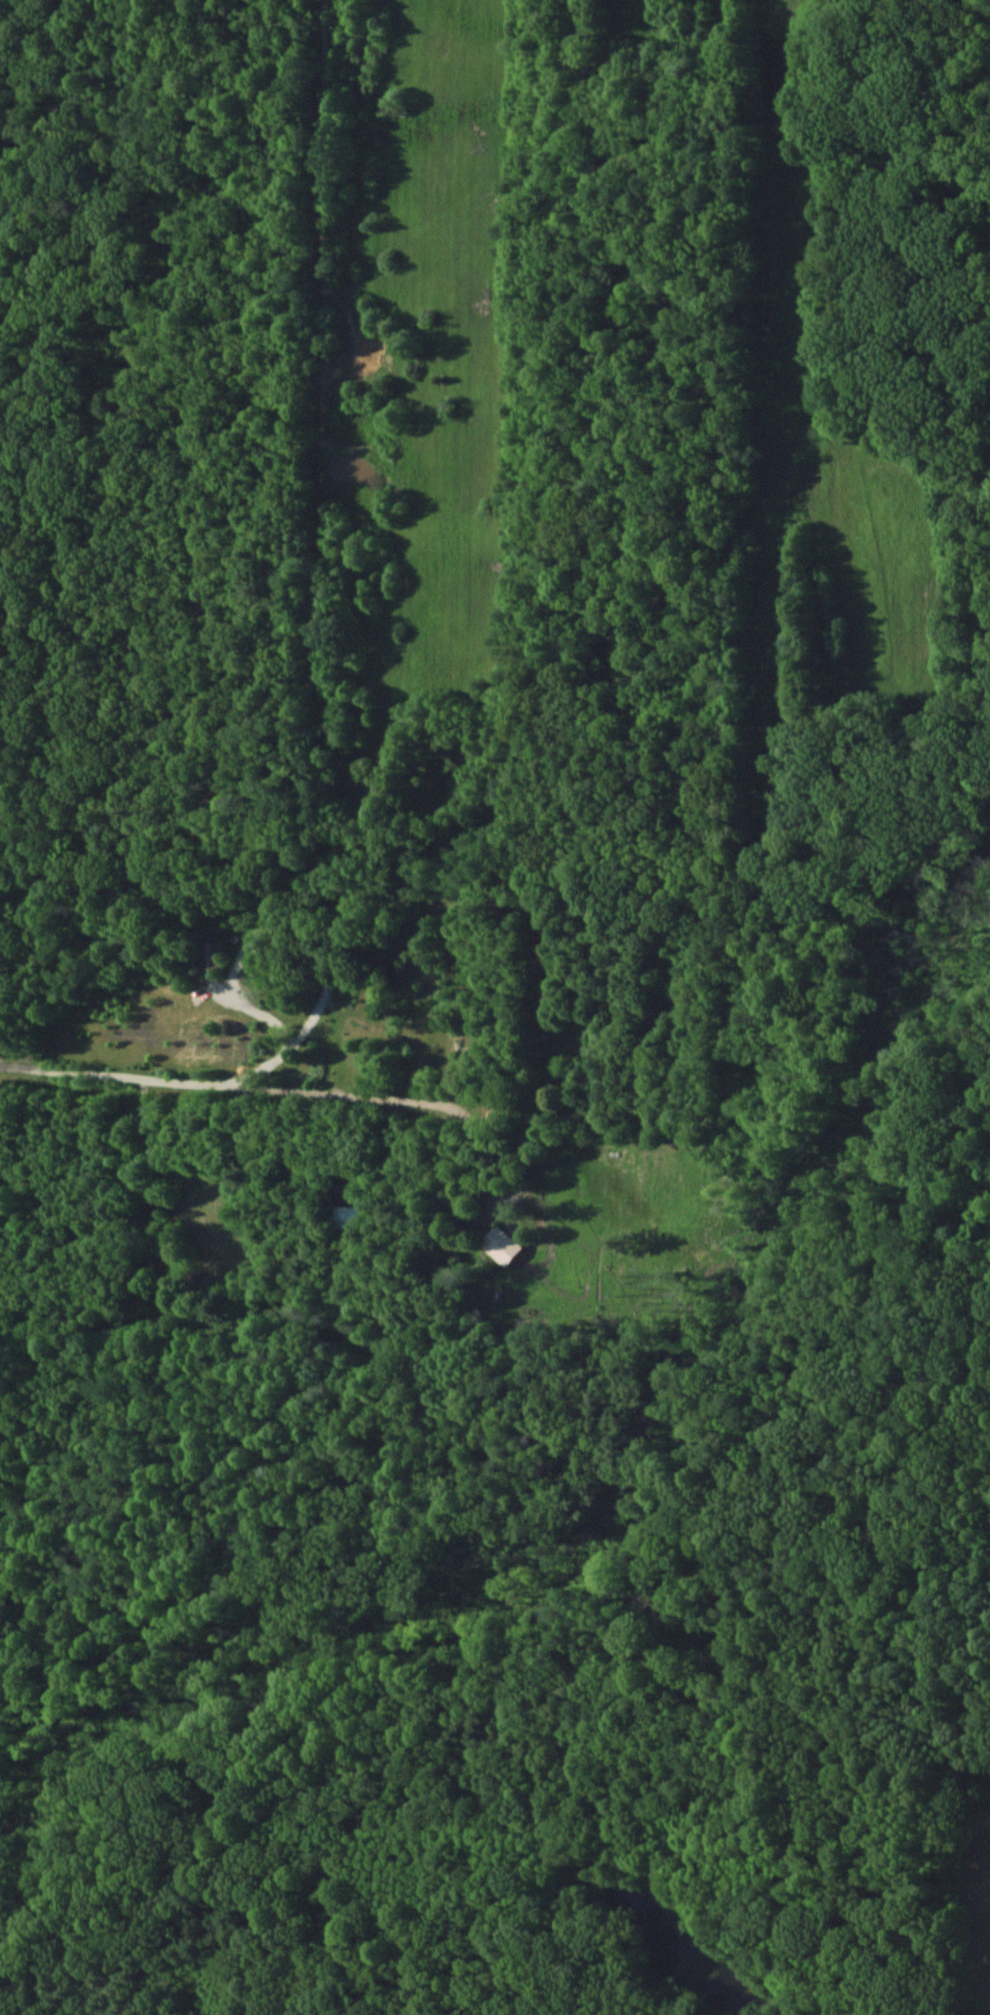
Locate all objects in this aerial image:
building: (213, 953)
road: (204, 1081)
building: (503, 1245)

